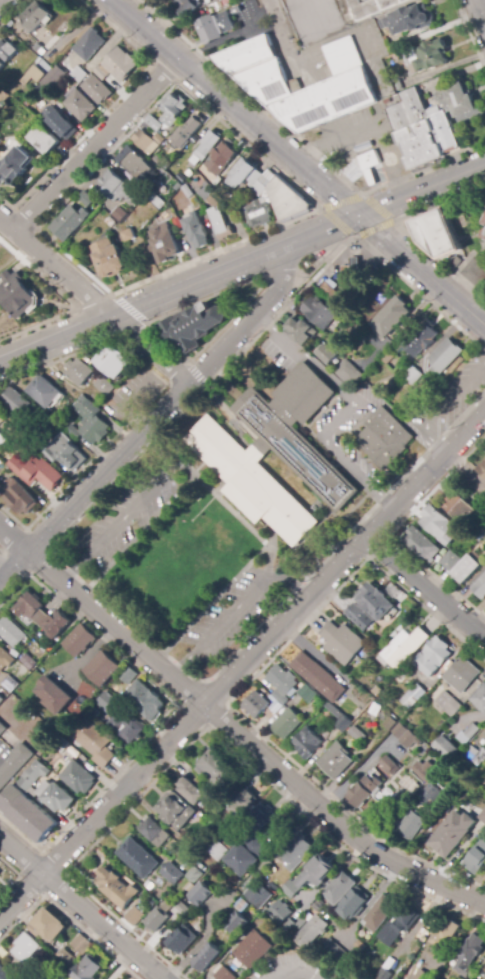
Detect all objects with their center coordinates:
road: (0, 0)
building: (150, 0)
building: (219, 6)
building: (368, 6)
building: (187, 8)
road: (480, 10)
building: (36, 16)
building: (407, 19)
building: (215, 26)
road: (279, 29)
road: (469, 39)
building: (88, 43)
building: (8, 51)
building: (246, 54)
building: (424, 54)
building: (2, 66)
building: (116, 68)
building: (72, 70)
building: (32, 76)
building: (51, 78)
building: (266, 81)
building: (398, 85)
building: (97, 89)
building: (330, 90)
building: (459, 98)
road: (224, 101)
building: (79, 106)
building: (172, 109)
building: (154, 123)
building: (61, 125)
building: (187, 132)
building: (444, 132)
building: (159, 139)
building: (44, 140)
building: (429, 140)
road: (300, 142)
building: (145, 143)
road: (96, 146)
building: (207, 146)
building: (412, 147)
building: (221, 159)
building: (370, 162)
building: (135, 165)
building: (14, 167)
building: (195, 167)
building: (244, 176)
road: (430, 185)
building: (115, 187)
building: (205, 191)
building: (187, 192)
building: (86, 199)
building: (157, 202)
building: (274, 203)
road: (59, 204)
building: (184, 213)
building: (118, 214)
road: (391, 221)
building: (484, 221)
building: (69, 223)
building: (462, 223)
building: (177, 224)
building: (220, 224)
road: (401, 228)
building: (196, 231)
building: (438, 234)
building: (128, 236)
building: (138, 237)
building: (164, 243)
road: (339, 249)
building: (110, 258)
building: (456, 262)
road: (414, 263)
building: (476, 264)
building: (352, 272)
road: (188, 284)
building: (377, 292)
building: (18, 294)
road: (254, 296)
road: (92, 302)
building: (321, 308)
road: (130, 310)
building: (391, 316)
building: (193, 327)
building: (304, 328)
building: (420, 339)
building: (332, 354)
building: (444, 357)
building: (390, 360)
building: (113, 361)
building: (82, 371)
building: (348, 374)
building: (412, 374)
road: (196, 375)
building: (103, 386)
building: (45, 393)
parking lot: (450, 400)
building: (16, 402)
road: (442, 406)
road: (354, 408)
building: (51, 415)
road: (153, 419)
building: (89, 424)
building: (9, 431)
building: (384, 438)
building: (2, 441)
building: (63, 452)
building: (233, 457)
building: (482, 470)
building: (34, 473)
building: (18, 497)
road: (129, 509)
building: (463, 512)
parking lot: (117, 516)
building: (439, 525)
road: (394, 531)
building: (481, 533)
building: (422, 545)
building: (451, 561)
building: (467, 569)
building: (479, 588)
road: (424, 589)
building: (371, 604)
road: (236, 609)
building: (42, 616)
parking lot: (233, 625)
building: (11, 632)
building: (80, 640)
building: (341, 642)
building: (404, 647)
road: (93, 654)
building: (433, 657)
building: (5, 659)
building: (28, 661)
road: (242, 665)
building: (103, 667)
building: (352, 667)
building: (128, 675)
building: (462, 675)
building: (318, 677)
building: (283, 680)
building: (10, 684)
building: (307, 694)
building: (53, 695)
building: (412, 696)
building: (280, 698)
building: (480, 698)
building: (145, 701)
building: (107, 702)
building: (448, 704)
building: (259, 705)
building: (334, 711)
road: (466, 717)
building: (389, 723)
building: (286, 724)
building: (344, 724)
building: (128, 726)
building: (2, 729)
road: (233, 730)
building: (399, 731)
building: (468, 734)
building: (357, 735)
building: (410, 739)
building: (308, 743)
building: (94, 744)
road: (1, 746)
building: (446, 748)
building: (468, 754)
building: (480, 758)
building: (336, 761)
building: (14, 764)
building: (389, 765)
building: (217, 769)
building: (424, 772)
building: (78, 778)
building: (483, 781)
building: (193, 790)
building: (414, 790)
building: (365, 792)
building: (57, 797)
building: (431, 797)
building: (405, 802)
building: (28, 804)
building: (243, 804)
building: (177, 810)
building: (262, 817)
building: (483, 817)
building: (414, 826)
building: (155, 832)
building: (454, 834)
building: (221, 851)
building: (299, 852)
building: (249, 855)
building: (139, 858)
building: (477, 859)
building: (319, 873)
building: (0, 874)
building: (174, 874)
road: (16, 875)
building: (196, 875)
building: (116, 887)
building: (342, 888)
building: (293, 889)
building: (202, 894)
building: (258, 894)
building: (356, 904)
building: (319, 906)
road: (79, 908)
building: (282, 912)
building: (382, 913)
building: (135, 916)
road: (66, 917)
building: (50, 921)
building: (161, 921)
building: (238, 923)
building: (303, 923)
building: (401, 925)
building: (34, 931)
building: (313, 932)
building: (445, 933)
building: (180, 937)
road: (204, 938)
building: (81, 945)
building: (25, 948)
building: (254, 949)
building: (338, 953)
building: (471, 954)
building: (66, 957)
building: (208, 958)
building: (87, 968)
building: (484, 969)
road: (298, 971)
building: (32, 973)
building: (5, 974)
building: (225, 974)
building: (384, 974)
building: (422, 976)

